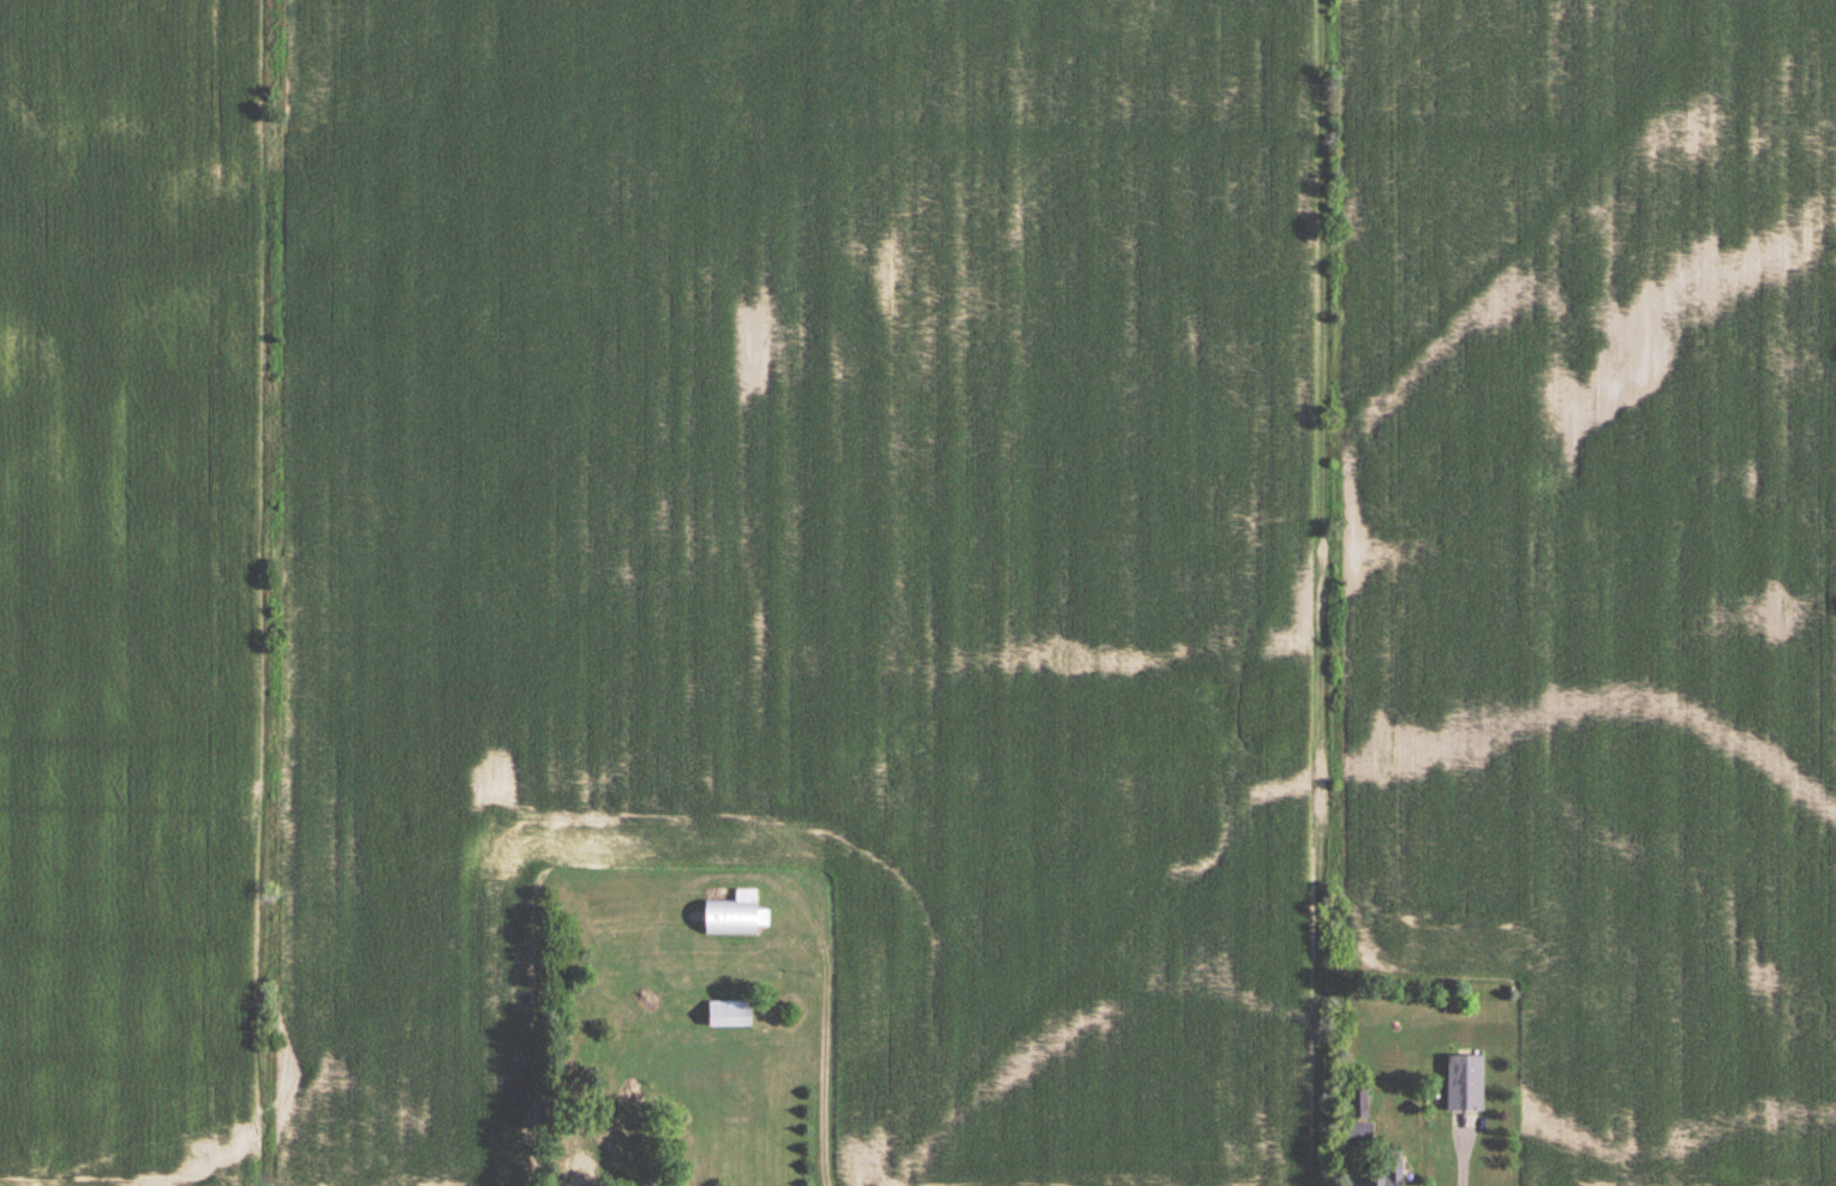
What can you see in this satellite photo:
building: (735, 916)
building: (730, 1014)
building: (1465, 1084)
building: (579, 1157)
building: (1391, 1176)

